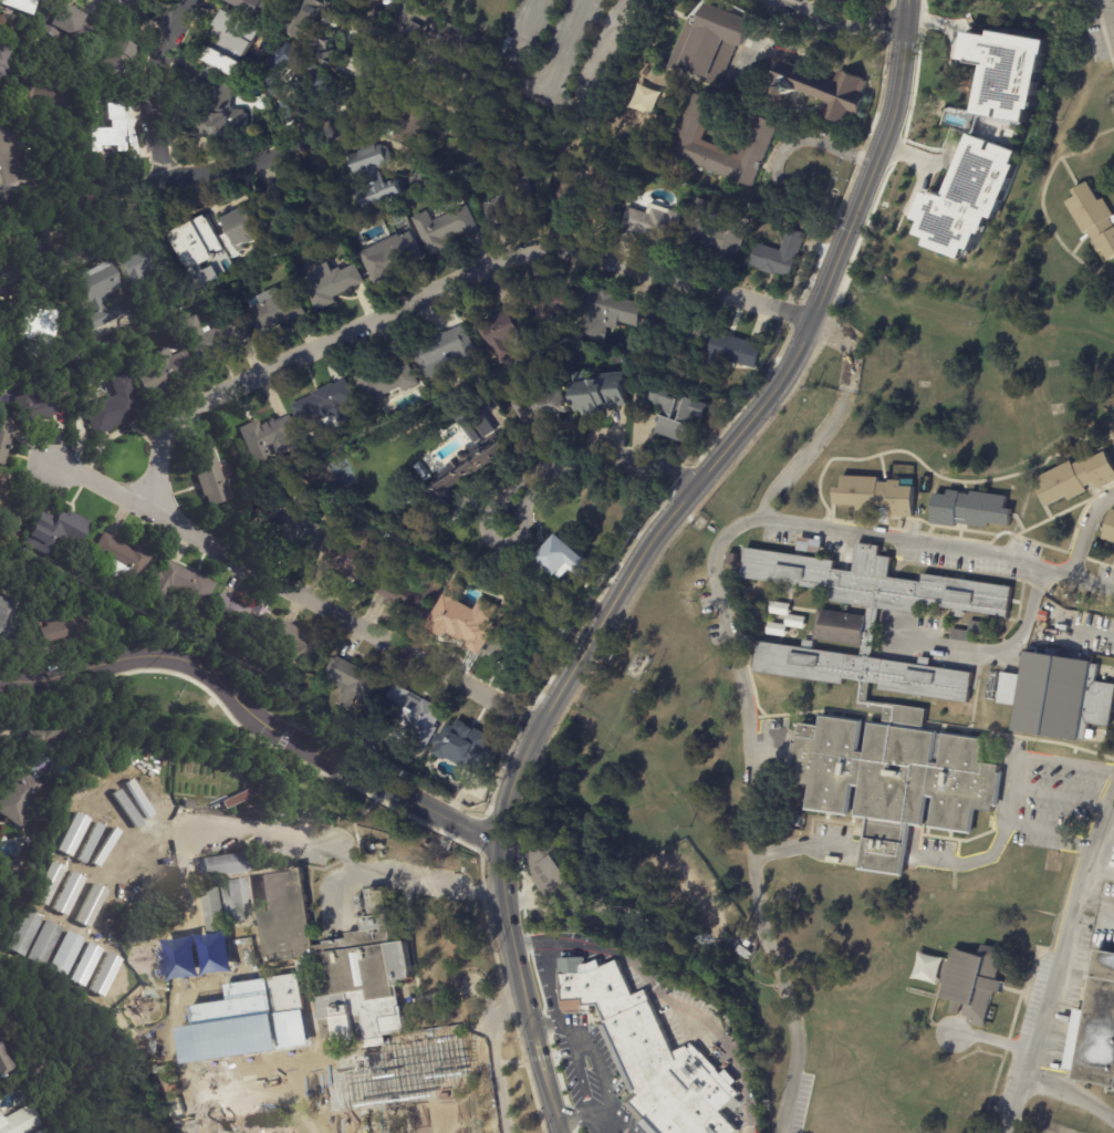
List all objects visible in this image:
building: (342, 4)
building: (15, 6)
building: (257, 7)
road: (155, 10)
road: (1110, 17)
road: (935, 22)
building: (481, 23)
building: (66, 24)
building: (312, 27)
road: (841, 28)
road: (518, 35)
building: (448, 39)
building: (712, 39)
building: (230, 44)
road: (560, 45)
building: (2, 55)
building: (107, 59)
building: (1004, 67)
building: (299, 70)
building: (0, 74)
building: (818, 84)
road: (148, 85)
building: (457, 86)
road: (582, 90)
building: (46, 96)
building: (644, 98)
building: (217, 108)
building: (415, 127)
building: (110, 133)
building: (560, 141)
building: (694, 144)
road: (907, 153)
road: (778, 158)
building: (445, 159)
road: (235, 160)
road: (10, 166)
building: (375, 176)
building: (585, 196)
building: (967, 199)
building: (512, 202)
building: (336, 207)
building: (1094, 218)
building: (298, 224)
building: (654, 224)
building: (446, 229)
building: (715, 231)
building: (249, 232)
building: (197, 252)
building: (780, 254)
building: (392, 258)
building: (136, 261)
building: (27, 269)
building: (332, 284)
road: (436, 288)
building: (98, 298)
building: (554, 304)
building: (277, 310)
building: (610, 314)
building: (679, 329)
building: (39, 330)
building: (504, 334)
building: (215, 339)
building: (733, 352)
building: (445, 353)
building: (2, 364)
building: (164, 372)
building: (388, 383)
building: (600, 394)
building: (326, 404)
building: (41, 406)
building: (541, 406)
building: (696, 414)
building: (115, 415)
building: (269, 438)
building: (3, 439)
road: (587, 459)
building: (470, 460)
building: (210, 478)
building: (1076, 478)
building: (876, 495)
building: (3, 500)
road: (509, 505)
building: (970, 508)
building: (288, 522)
building: (698, 524)
building: (1110, 528)
road: (1083, 529)
road: (519, 531)
building: (55, 534)
building: (11, 536)
building: (812, 544)
road: (936, 544)
road: (644, 554)
building: (354, 558)
building: (565, 559)
building: (123, 560)
building: (517, 578)
building: (183, 583)
road: (296, 589)
building: (409, 596)
building: (480, 603)
building: (563, 613)
building: (240, 615)
building: (9, 616)
building: (799, 619)
building: (65, 625)
building: (980, 627)
building: (462, 628)
road: (1086, 630)
building: (960, 635)
building: (503, 645)
building: (296, 647)
road: (986, 649)
building: (356, 684)
road: (738, 688)
building: (1058, 695)
building: (892, 708)
road: (253, 713)
building: (417, 717)
building: (59, 728)
building: (467, 747)
building: (74, 758)
road: (1013, 782)
road: (1060, 794)
building: (19, 802)
building: (188, 803)
parking lot: (264, 834)
road: (325, 844)
road: (801, 844)
road: (974, 859)
building: (223, 864)
parking lot: (419, 873)
building: (566, 879)
road: (336, 891)
road: (512, 896)
building: (238, 900)
parking lot: (325, 907)
building: (216, 909)
road: (635, 935)
building: (244, 949)
building: (746, 952)
road: (1053, 958)
building: (927, 968)
building: (971, 981)
road: (554, 983)
building: (291, 985)
road: (664, 992)
building: (285, 1009)
building: (238, 1015)
building: (196, 1017)
building: (332, 1023)
road: (546, 1025)
building: (236, 1026)
building: (1094, 1030)
building: (158, 1036)
road: (577, 1038)
road: (488, 1053)
building: (4, 1061)
road: (575, 1067)
road: (601, 1081)
road: (1070, 1096)
building: (685, 1098)
road: (595, 1112)
road: (570, 1114)
building: (20, 1121)
road: (587, 1122)
road: (614, 1123)
building: (314, 1129)
building: (260, 1131)
building: (39, 1132)
building: (42, 1132)

